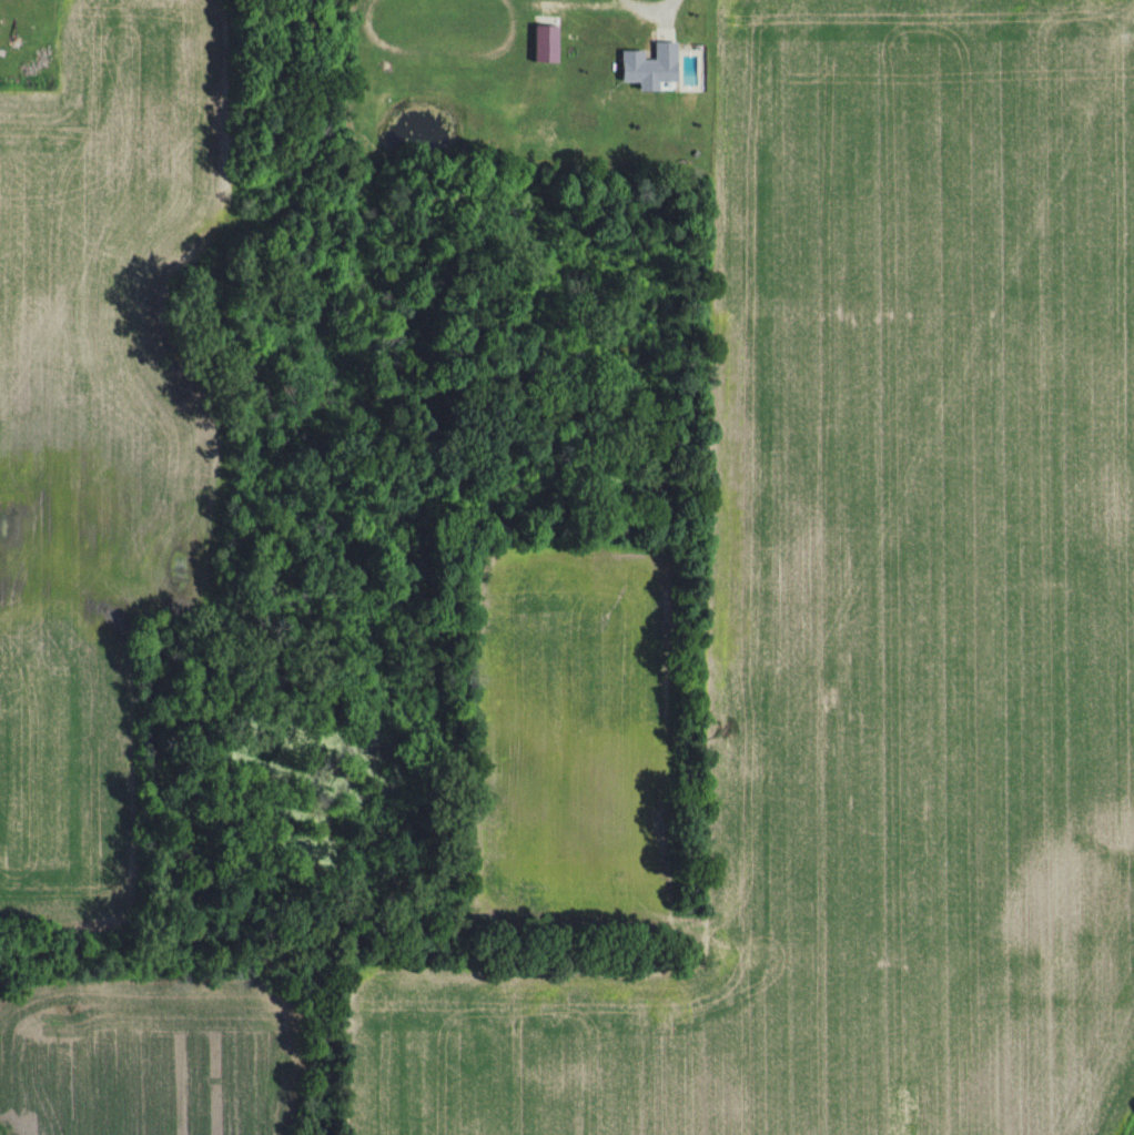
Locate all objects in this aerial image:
building: (547, 45)
building: (652, 68)

